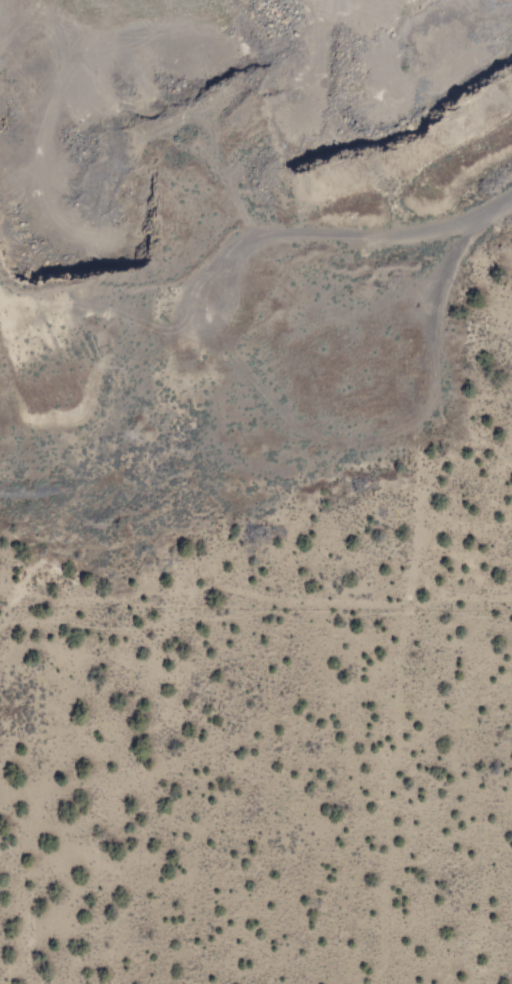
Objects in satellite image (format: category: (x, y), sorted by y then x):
road: (491, 211)
quarry: (229, 244)

